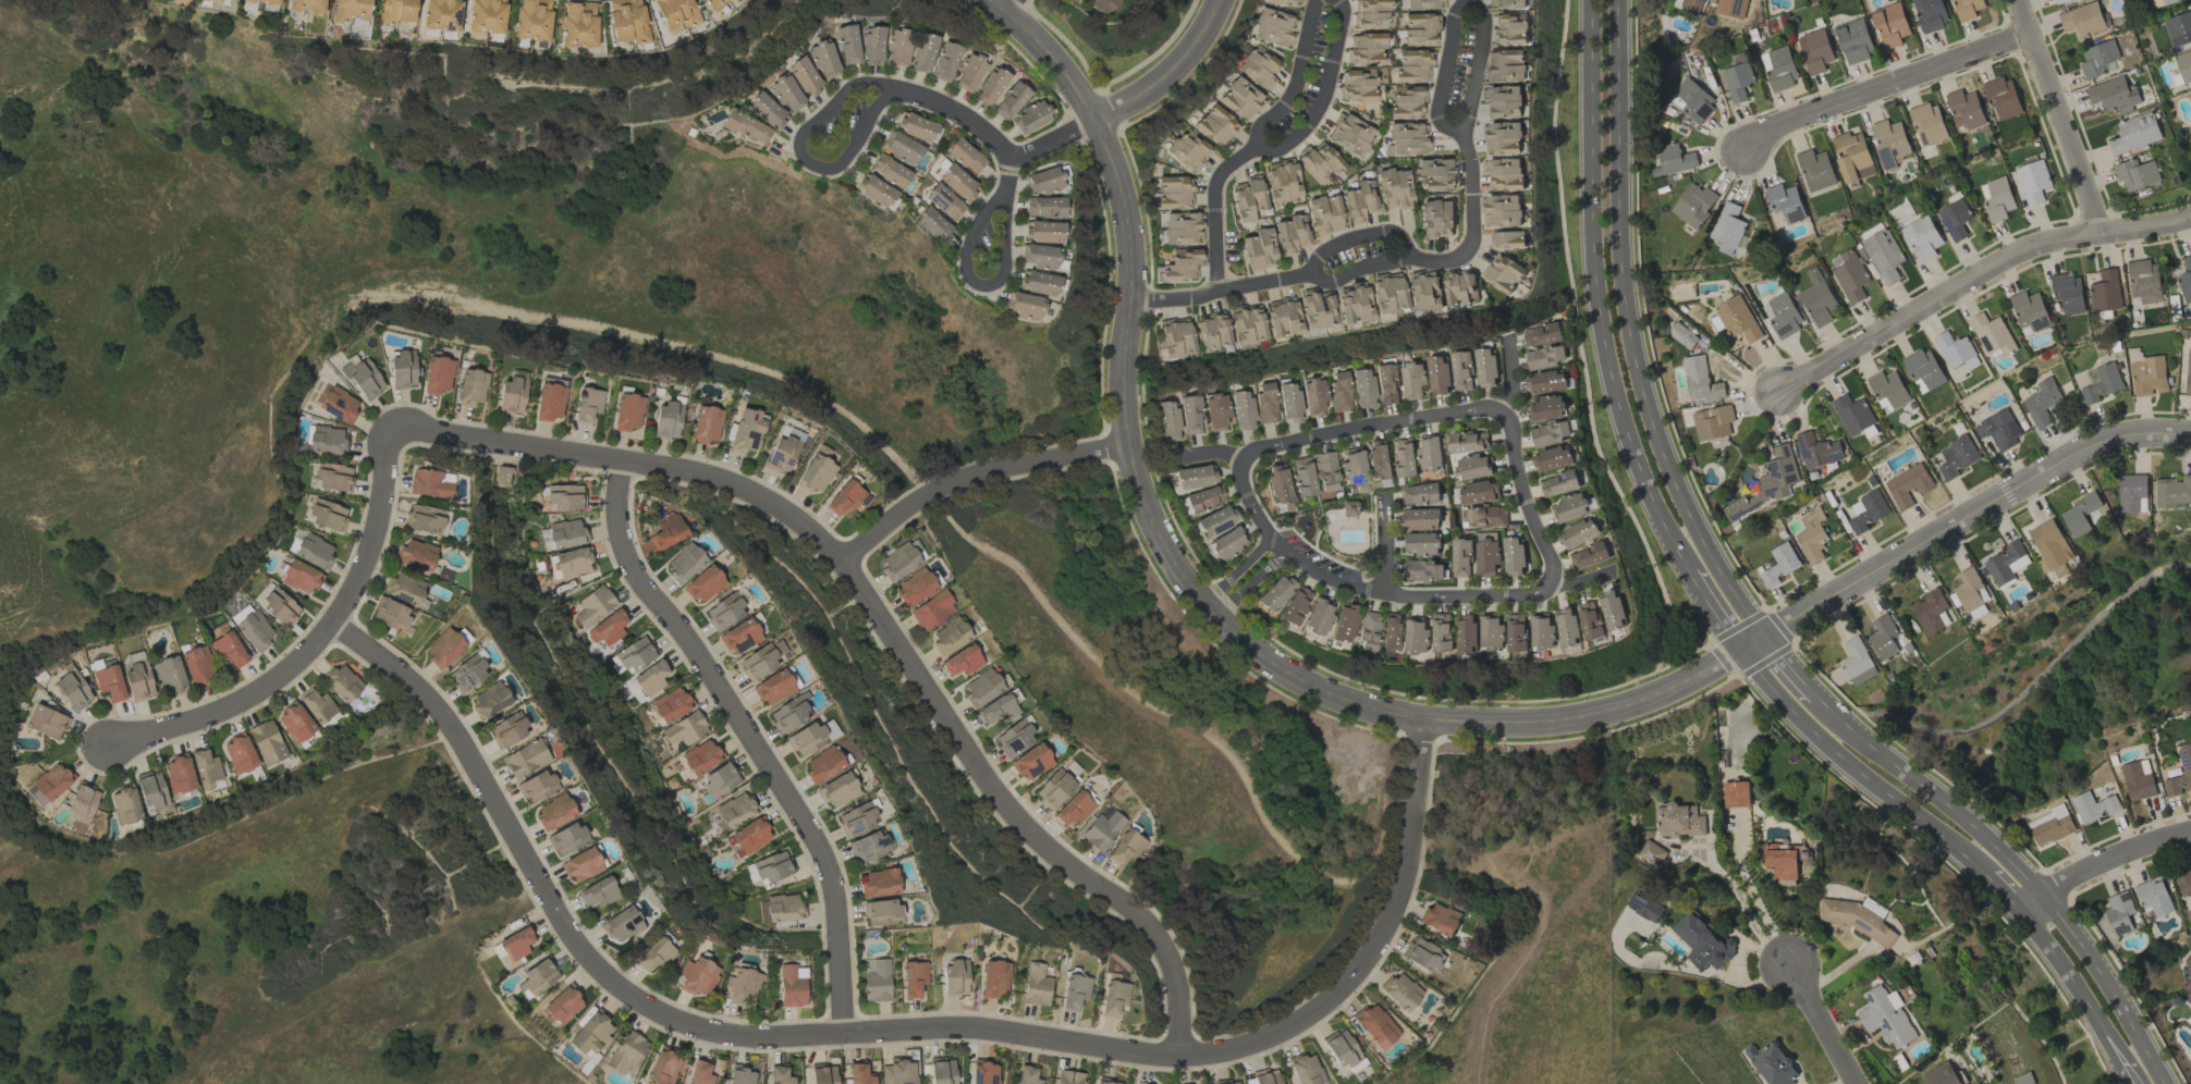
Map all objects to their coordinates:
building: (210, 0)
building: (1076, 0)
building: (1117, 0)
building: (2057, 0)
building: (265, 1)
building: (1284, 1)
building: (2166, 1)
building: (1504, 2)
building: (713, 3)
building: (1425, 3)
road: (1005, 4)
building: (307, 5)
building: (1101, 5)
building: (1691, 5)
building: (1730, 8)
building: (1966, 8)
building: (396, 11)
building: (350, 12)
building: (675, 13)
building: (1931, 13)
building: (442, 14)
building: (1371, 14)
building: (487, 15)
building: (2082, 19)
building: (531, 20)
building: (626, 21)
building: (578, 24)
building: (1889, 24)
building: (1274, 27)
building: (1508, 27)
building: (1420, 28)
building: (2178, 28)
building: (1853, 40)
building: (848, 45)
building: (873, 46)
building: (898, 47)
building: (1367, 49)
building: (1814, 50)
building: (923, 53)
building: (2097, 58)
building: (824, 60)
building: (946, 62)
building: (1505, 64)
building: (2183, 64)
building: (1412, 65)
road: (1478, 65)
building: (1259, 67)
building: (1778, 67)
building: (970, 73)
road: (1168, 73)
road: (1444, 73)
building: (805, 77)
building: (1737, 81)
road: (1295, 82)
building: (991, 86)
building: (1357, 86)
road: (1883, 86)
building: (787, 94)
building: (2113, 95)
road: (1322, 96)
building: (2002, 96)
building: (1240, 99)
building: (1691, 99)
building: (1504, 100)
building: (1011, 101)
building: (1405, 101)
building: (768, 111)
road: (956, 112)
road: (2058, 115)
building: (1032, 116)
building: (1927, 123)
building: (1214, 126)
building: (746, 127)
building: (916, 127)
building: (2134, 133)
building: (1349, 135)
building: (1407, 137)
building: (1504, 137)
road: (1054, 138)
building: (1888, 141)
building: (902, 148)
building: (1189, 149)
building: (1851, 156)
road: (803, 157)
building: (965, 157)
street lamp: (1479, 157)
building: (1672, 159)
building: (1322, 162)
building: (1814, 169)
building: (890, 171)
road: (1011, 173)
building: (1504, 173)
building: (2135, 173)
building: (1437, 175)
street lamp: (1232, 178)
building: (1043, 181)
building: (2032, 181)
building: (958, 183)
building: (1283, 183)
road: (1471, 185)
building: (1395, 189)
building: (874, 190)
building: (1175, 193)
building: (1996, 198)
building: (1360, 199)
building: (1249, 200)
building: (1785, 201)
building: (944, 202)
building: (1693, 205)
building: (1044, 207)
building: (1502, 209)
road: (1214, 213)
building: (1324, 214)
building: (1436, 217)
building: (1954, 219)
road: (1391, 224)
building: (932, 225)
building: (1183, 226)
building: (1727, 227)
road: (1406, 230)
building: (1042, 232)
building: (1292, 232)
street lamp: (1458, 235)
building: (1921, 237)
road: (1357, 238)
building: (1507, 239)
road: (1449, 247)
street lamp: (1143, 248)
building: (1258, 248)
road: (1432, 248)
road: (1481, 249)
street lamp: (1355, 252)
building: (1881, 254)
building: (1039, 257)
road: (1473, 259)
road: (1447, 260)
road: (1459, 261)
building: (1177, 262)
road: (1452, 264)
road: (1417, 266)
road: (1427, 266)
street lamp: (1244, 272)
road: (1360, 272)
building: (1505, 272)
road: (1973, 275)
building: (1850, 276)
building: (2184, 279)
building: (2143, 281)
building: (1039, 283)
road: (977, 284)
building: (1460, 286)
road: (1220, 290)
building: (2105, 291)
building: (2067, 292)
building: (1423, 293)
road: (1596, 294)
building: (1388, 297)
building: (1816, 298)
building: (1025, 306)
building: (1354, 306)
building: (1317, 308)
building: (2029, 310)
building: (1283, 318)
building: (1737, 318)
building: (1247, 324)
building: (1211, 331)
building: (1541, 334)
building: (1992, 334)
road: (1629, 335)
building: (1681, 335)
building: (1175, 337)
road: (1577, 344)
building: (1956, 350)
building: (1544, 356)
building: (1484, 367)
building: (403, 369)
building: (1460, 370)
building: (1923, 370)
building: (2188, 372)
building: (1437, 374)
building: (2147, 374)
building: (438, 375)
road: (1509, 377)
building: (364, 379)
building: (1412, 380)
building: (1700, 380)
building: (1546, 381)
building: (2101, 382)
building: (1386, 383)
building: (473, 387)
building: (1888, 387)
building: (1363, 389)
building: (1341, 391)
building: (512, 396)
building: (1314, 396)
building: (551, 399)
building: (2041, 402)
building: (1265, 403)
building: (1289, 403)
building: (336, 404)
building: (588, 405)
building: (1546, 407)
building: (1241, 410)
building: (1216, 411)
building: (628, 412)
road: (1124, 414)
building: (1852, 414)
building: (1190, 415)
building: (666, 421)
building: (1167, 421)
building: (1712, 421)
building: (706, 424)
road: (1366, 424)
building: (1997, 428)
building: (746, 431)
building: (1549, 433)
building: (327, 441)
building: (1468, 441)
building: (1817, 451)
building: (1429, 453)
building: (782, 454)
road: (1208, 455)
building: (1956, 456)
building: (1404, 457)
building: (1552, 458)
building: (1379, 459)
building: (1472, 466)
building: (1354, 468)
building: (817, 470)
road: (899, 471)
building: (1325, 472)
building: (502, 476)
building: (333, 477)
building: (1196, 477)
building: (1302, 477)
road: (975, 478)
building: (1558, 483)
building: (1766, 483)
building: (429, 484)
building: (1278, 484)
building: (1907, 484)
building: (1479, 491)
building: (2172, 491)
building: (1420, 493)
building: (2132, 493)
building: (565, 497)
building: (845, 497)
building: (1204, 498)
road: (1523, 501)
building: (1570, 507)
building: (1351, 508)
building: (1868, 510)
building: (2079, 514)
building: (328, 516)
building: (1483, 516)
building: (1419, 518)
building: (425, 519)
building: (1216, 520)
building: (666, 532)
building: (1579, 533)
building: (562, 535)
building: (1811, 535)
building: (1421, 543)
building: (2049, 543)
building: (1227, 544)
road: (1383, 544)
building: (314, 552)
building: (416, 555)
building: (1486, 555)
building: (1589, 555)
building: (1513, 556)
building: (1460, 557)
building: (684, 562)
building: (898, 562)
building: (2006, 563)
building: (571, 564)
building: (1778, 564)
road: (1239, 569)
building: (1423, 570)
building: (301, 577)
road: (1580, 580)
road: (1251, 582)
building: (703, 584)
building: (915, 587)
road: (1359, 587)
building: (404, 589)
building: (1969, 589)
building: (1274, 593)
building: (595, 605)
building: (1294, 605)
building: (280, 607)
road: (1816, 607)
building: (1613, 608)
building: (932, 611)
building: (1930, 611)
building: (724, 612)
road: (1714, 613)
building: (390, 615)
building: (1318, 617)
building: (1590, 619)
building: (1344, 623)
building: (1568, 627)
building: (608, 629)
road: (889, 629)
building: (255, 630)
building: (1367, 631)
building: (1392, 631)
building: (1442, 631)
building: (1492, 631)
building: (1542, 631)
building: (1517, 632)
building: (1467, 633)
building: (950, 636)
building: (1417, 636)
building: (739, 637)
building: (1883, 637)
road: (321, 640)
building: (443, 649)
building: (228, 650)
building: (636, 654)
building: (962, 661)
building: (1857, 661)
building: (758, 663)
building: (198, 666)
building: (467, 674)
road: (1794, 674)
building: (169, 676)
building: (651, 678)
road: (2029, 681)
park: (2056, 681)
building: (109, 682)
building: (138, 682)
building: (342, 682)
building: (982, 687)
building: (773, 688)
building: (73, 690)
building: (489, 701)
building: (671, 704)
building: (318, 706)
building: (997, 710)
building: (788, 715)
building: (47, 722)
building: (295, 723)
building: (685, 729)
building: (507, 730)
road: (749, 737)
building: (810, 737)
building: (1014, 738)
building: (267, 743)
building: (240, 754)
building: (701, 756)
building: (526, 759)
building: (2184, 761)
building: (1031, 762)
building: (822, 765)
road: (1849, 768)
building: (180, 775)
building: (2138, 778)
building: (720, 780)
building: (49, 785)
building: (537, 787)
building: (1053, 789)
building: (839, 790)
building: (151, 791)
building: (1735, 793)
road: (1936, 798)
building: (82, 803)
building: (125, 805)
building: (2093, 805)
building: (1074, 809)
building: (735, 810)
building: (554, 812)
building: (856, 820)
building: (1679, 820)
building: (2049, 825)
building: (748, 838)
building: (566, 839)
building: (868, 847)
building: (1125, 847)
building: (1651, 852)
building: (1779, 860)
road: (2098, 863)
building: (582, 865)
building: (772, 867)
building: (2183, 883)
building: (878, 884)
road: (1994, 891)
building: (598, 892)
road: (1752, 895)
building: (2153, 897)
road: (1741, 898)
building: (1645, 908)
building: (780, 909)
building: (2119, 912)
building: (881, 913)
building: (1440, 917)
building: (1859, 917)
building: (622, 925)
building: (1700, 940)
building: (516, 944)
building: (654, 954)
building: (1422, 956)
building: (2188, 968)
building: (697, 976)
building: (538, 977)
building: (914, 978)
building: (955, 978)
building: (877, 980)
building: (994, 980)
road: (2069, 983)
building: (742, 985)
building: (791, 986)
building: (1036, 986)
road: (2108, 986)
building: (1074, 991)
building: (1400, 991)
building: (1113, 998)
building: (562, 1006)
building: (1886, 1017)
building: (2189, 1021)
road: (1821, 1022)
building: (1375, 1026)
road: (893, 1028)
building: (590, 1034)
building: (1343, 1050)
building: (626, 1051)
building: (1772, 1063)
building: (663, 1067)
road: (2123, 1071)
building: (898, 1072)
building: (942, 1072)
building: (700, 1073)
building: (984, 1073)
building: (859, 1074)
building: (1942, 1074)
building: (742, 1075)
building: (780, 1075)
building: (1027, 1075)
building: (1068, 1077)
building: (1264, 1077)
building: (2023, 1079)
building: (1106, 1082)

